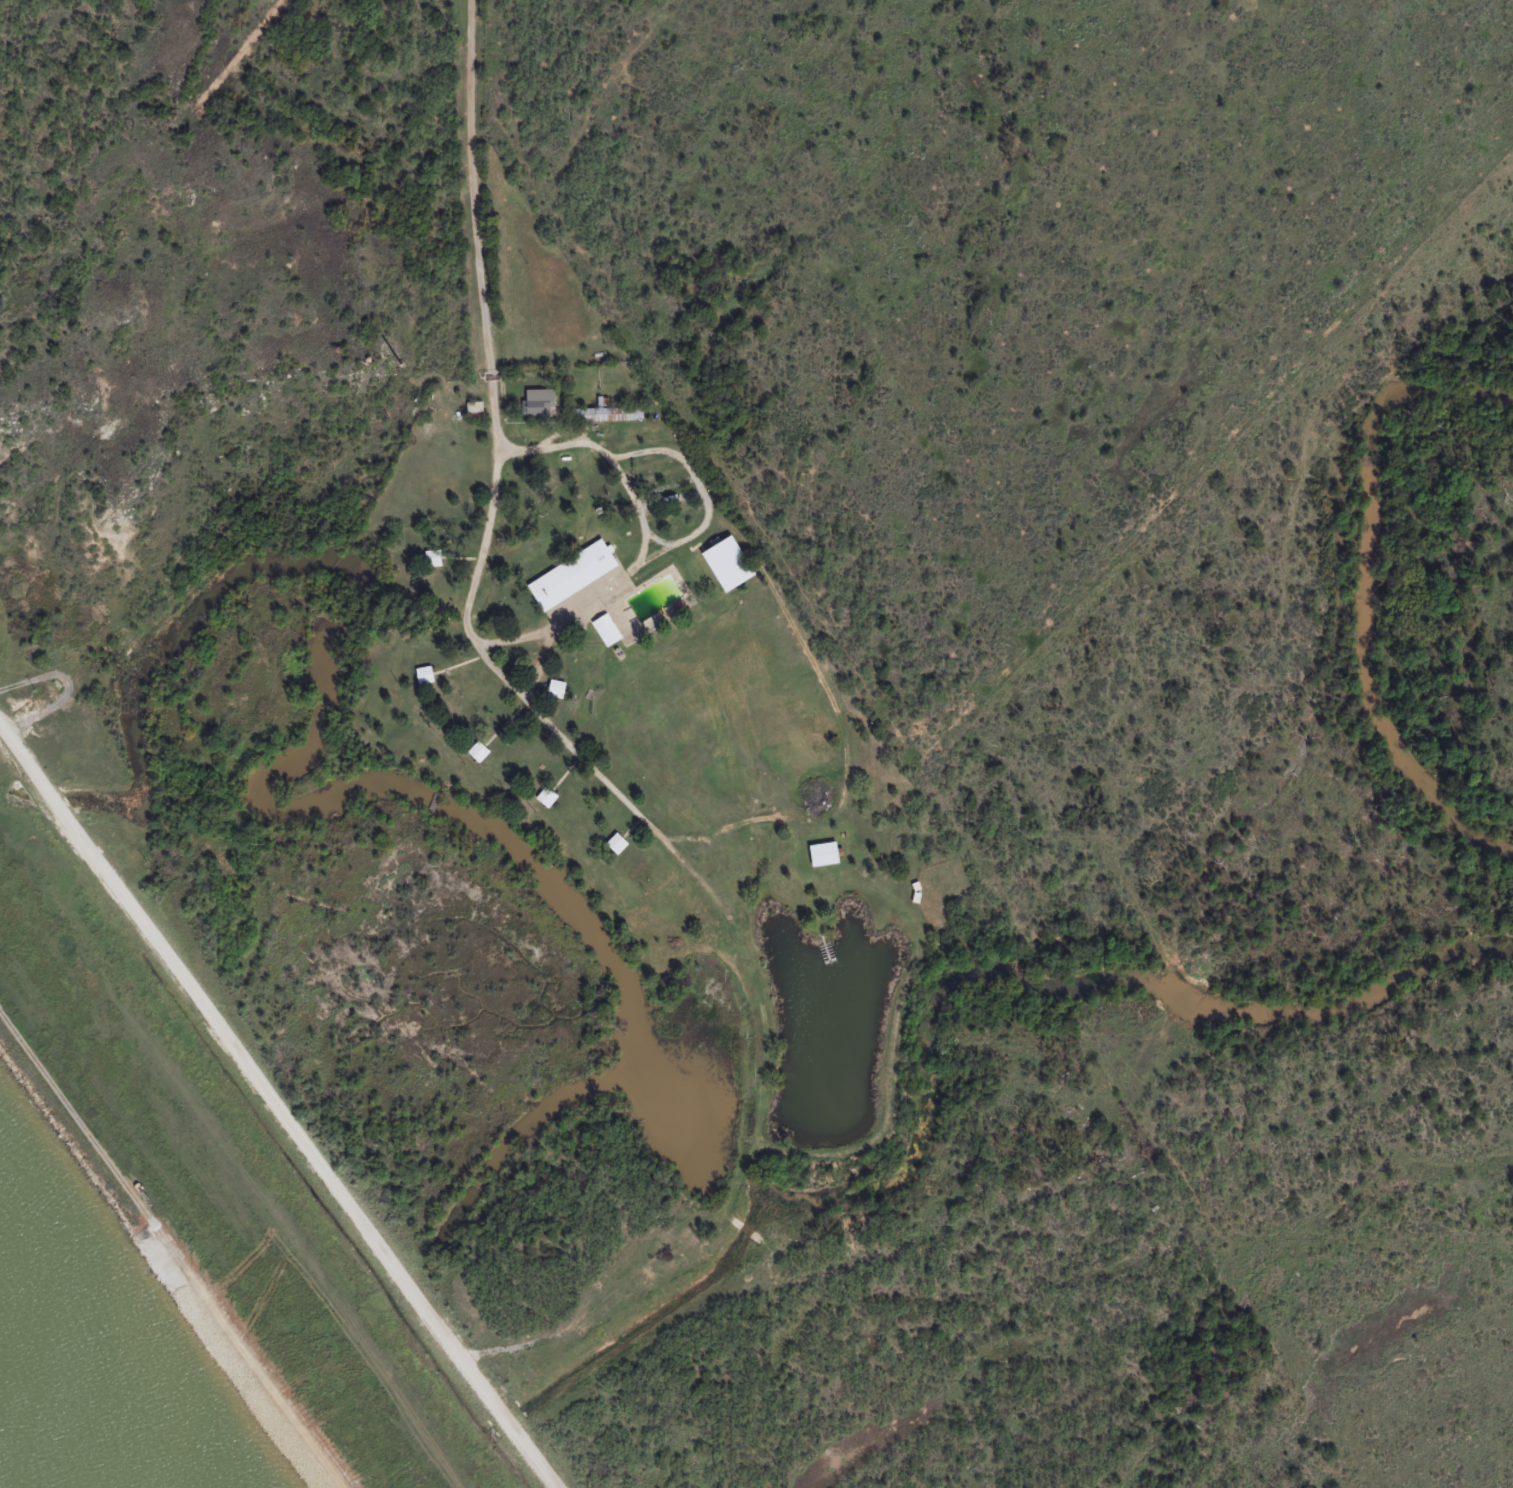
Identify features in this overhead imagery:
building: (538, 401)
building: (472, 410)
building: (604, 413)
road: (483, 417)
building: (431, 557)
building: (570, 574)
building: (604, 629)
building: (422, 674)
building: (554, 688)
building: (476, 751)
building: (544, 796)
building: (615, 843)
building: (822, 854)
road: (280, 1106)

